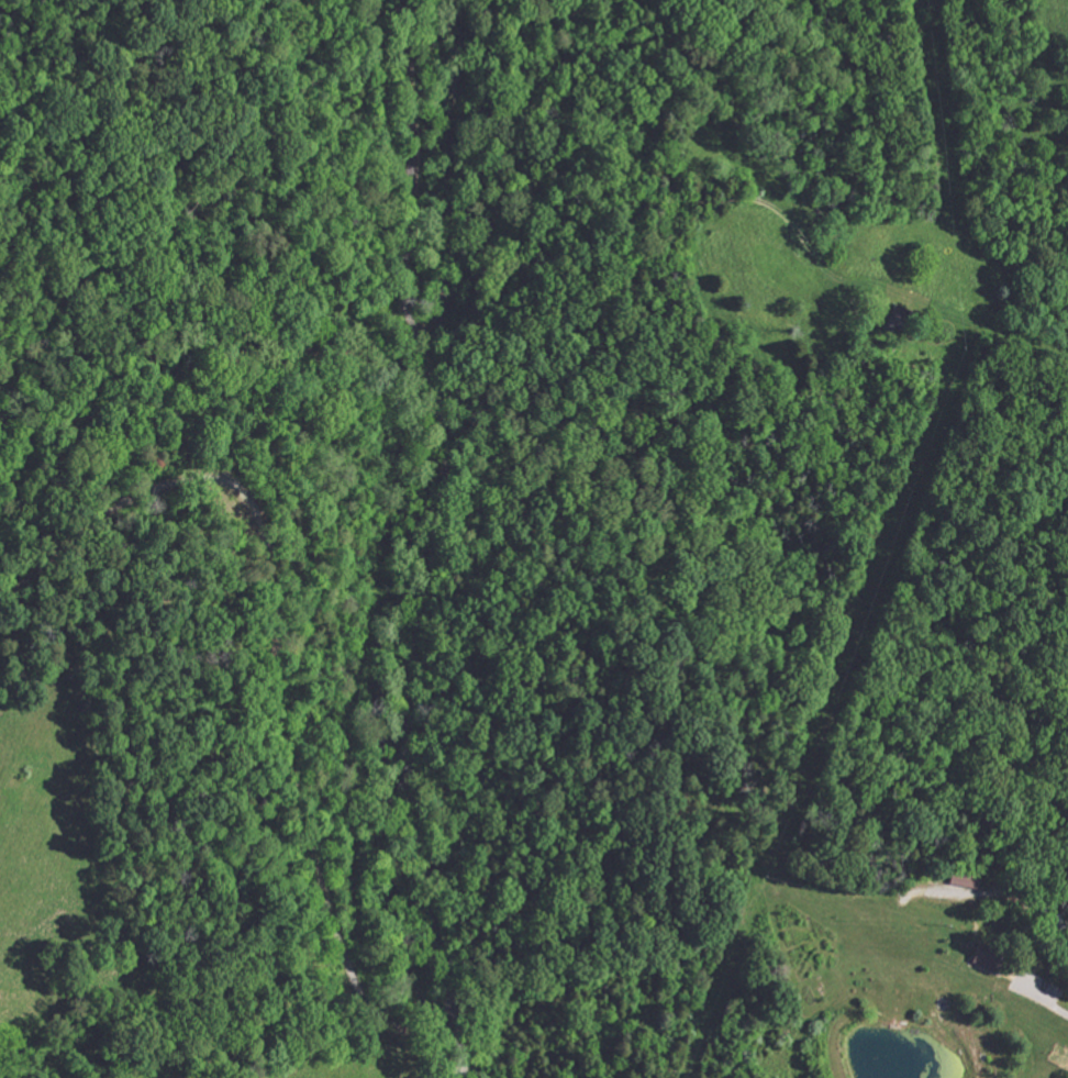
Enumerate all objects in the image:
road: (672, 57)
road: (436, 541)
building: (956, 877)
building: (979, 958)

